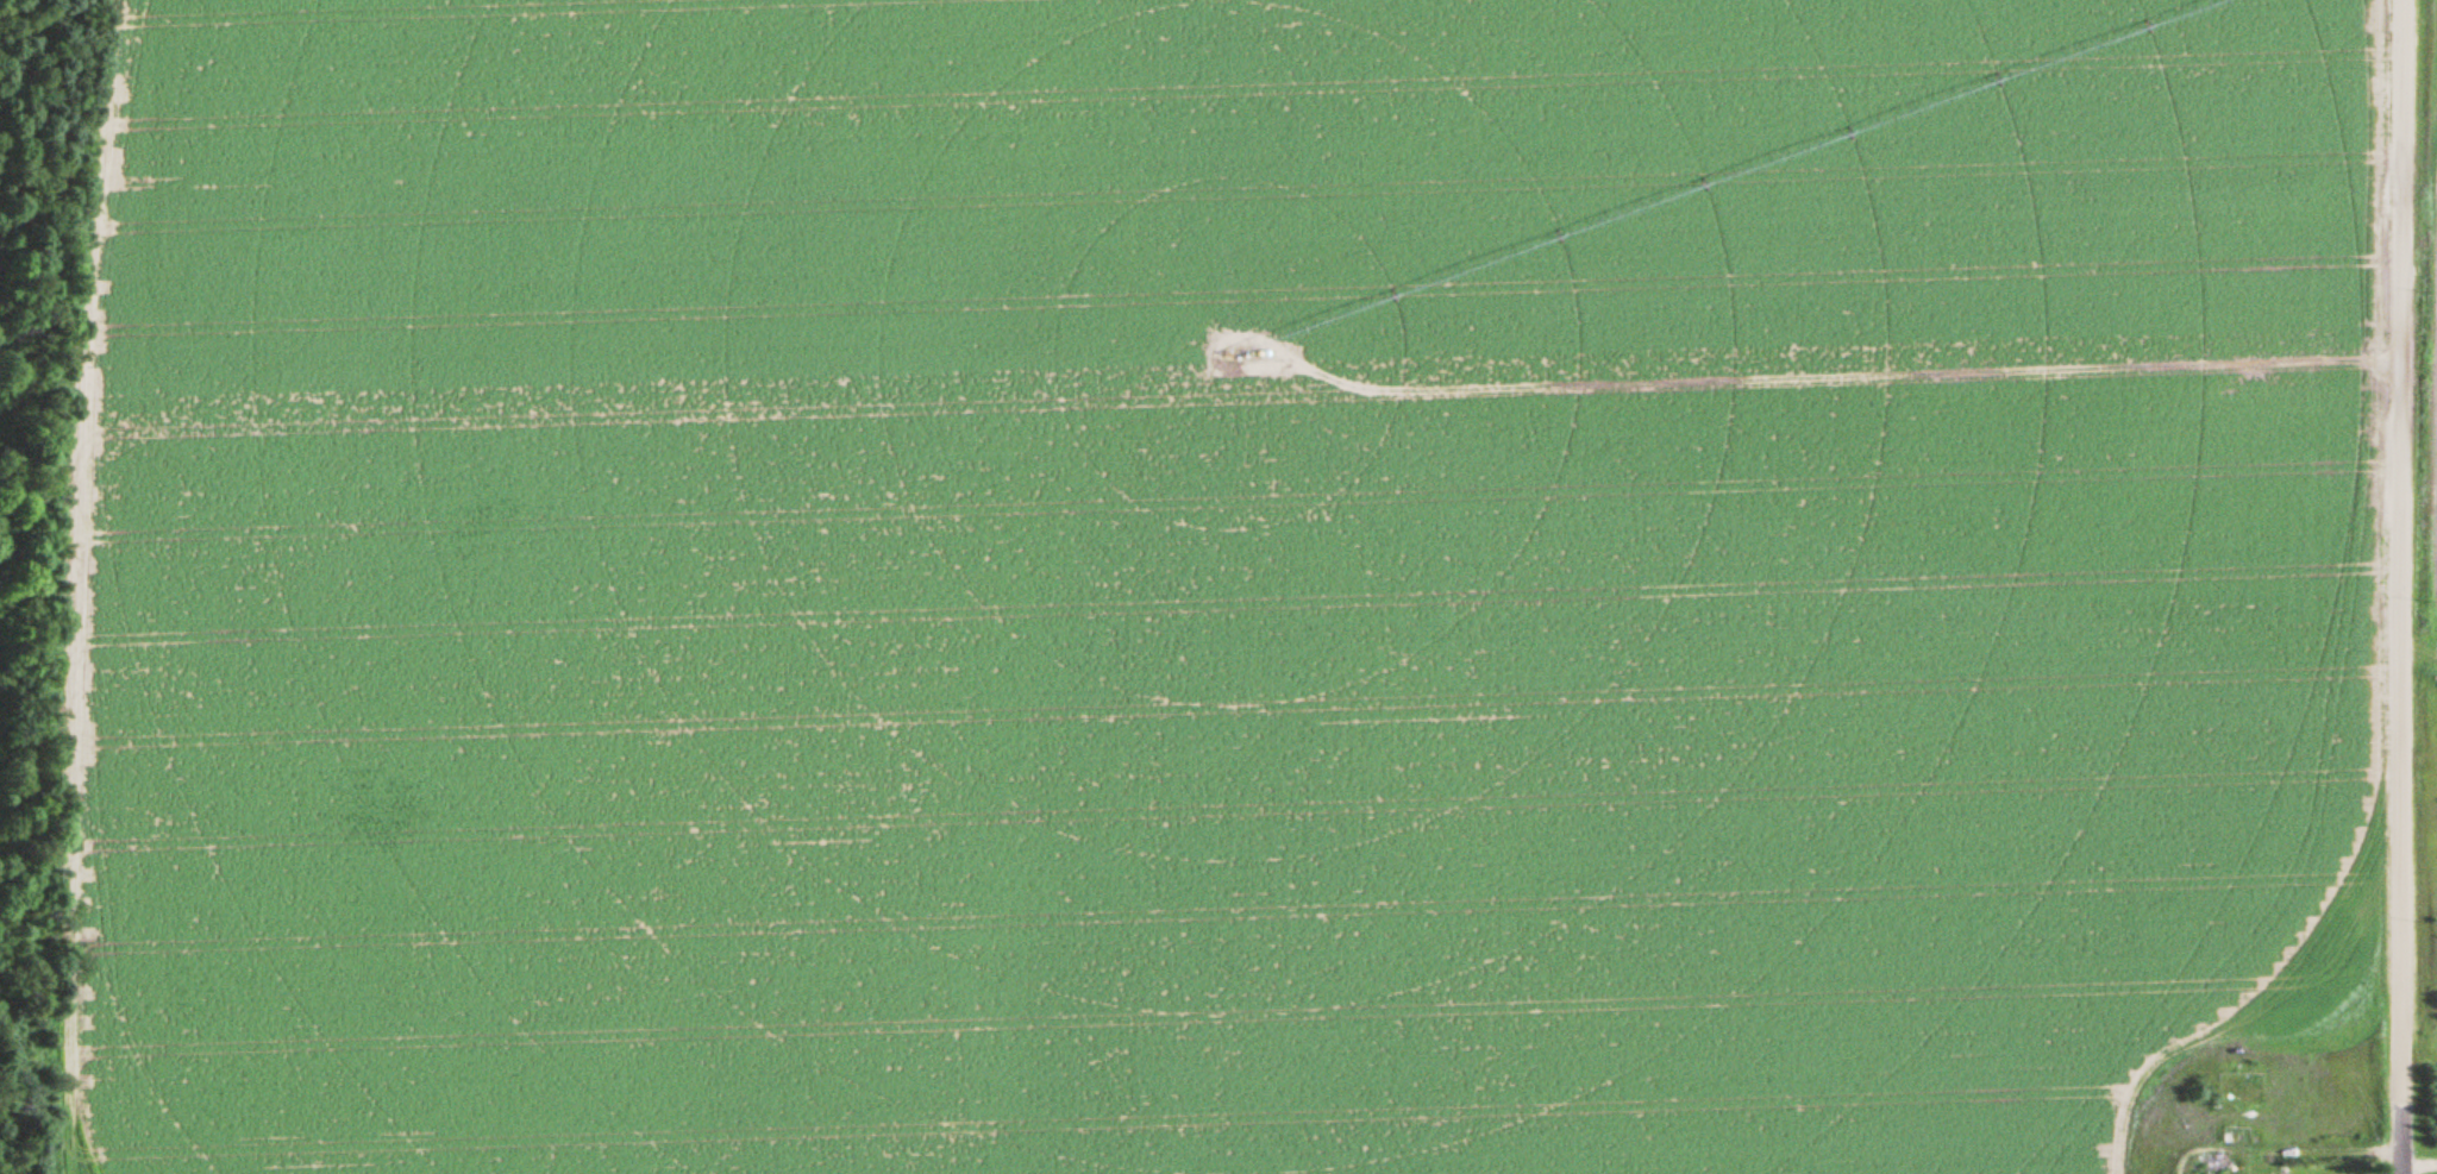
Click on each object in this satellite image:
road: (2395, 552)
road: (2391, 1138)
road: (2414, 1166)

